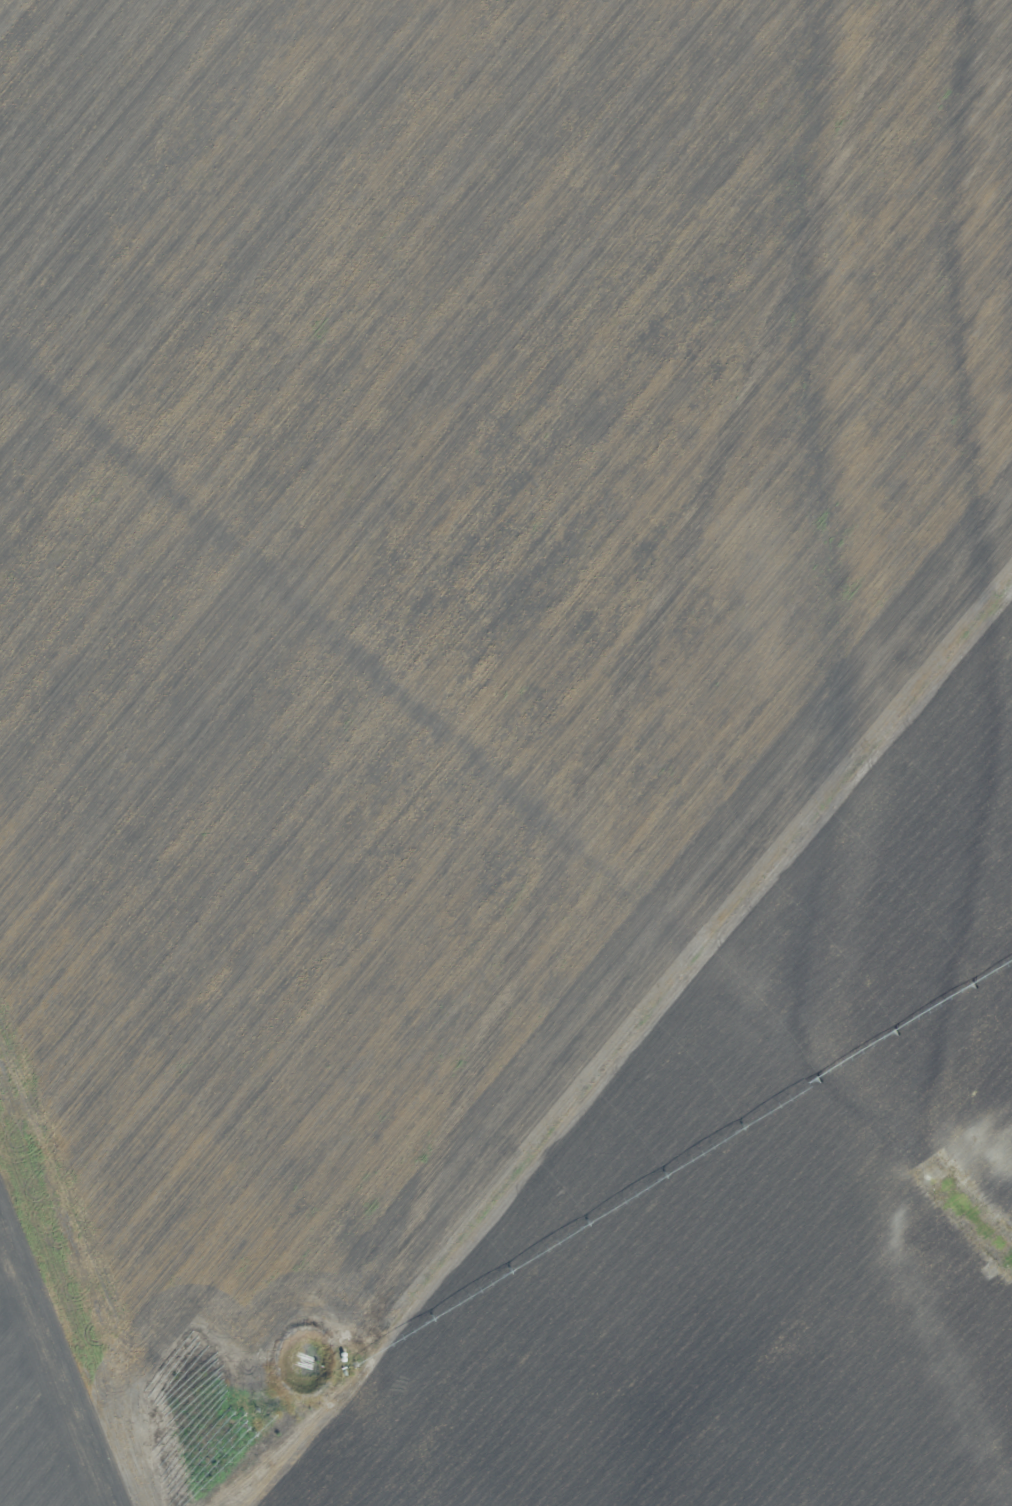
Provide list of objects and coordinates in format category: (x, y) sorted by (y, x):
road: (434, 781)
road: (935, 1353)

